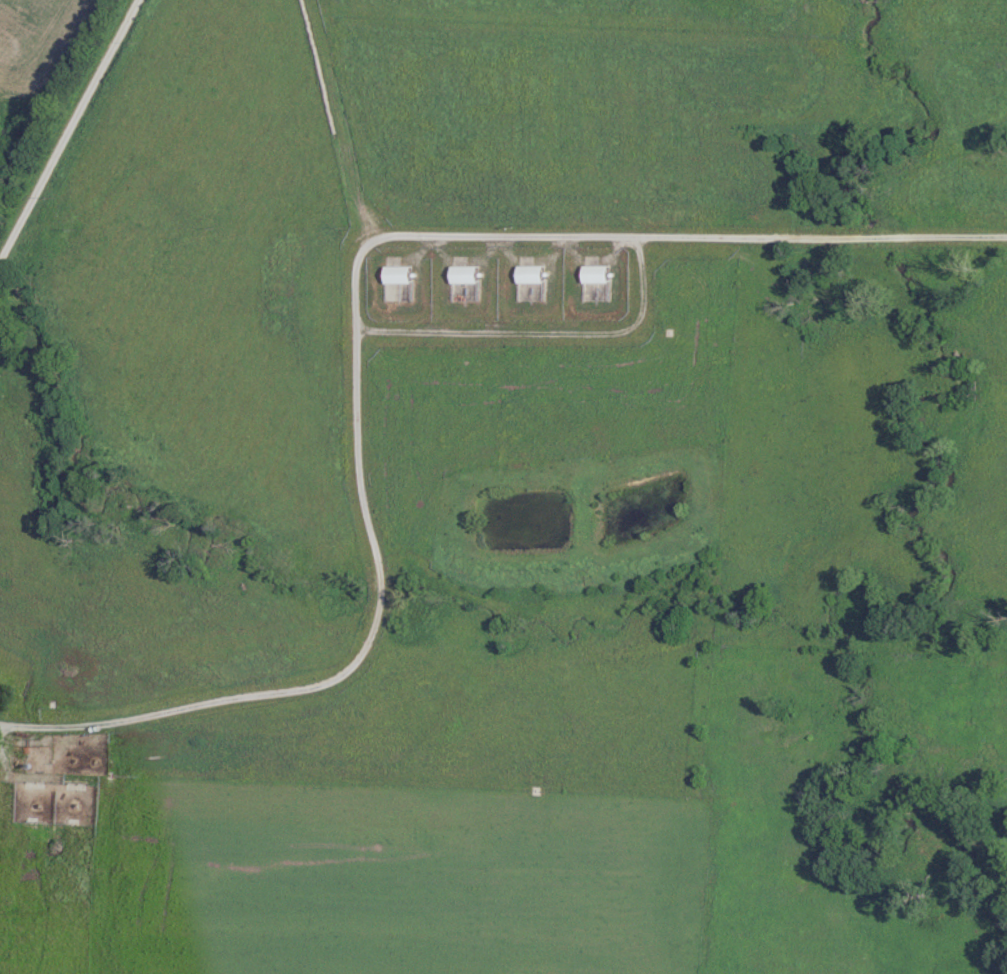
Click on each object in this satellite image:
road: (70, 134)
building: (532, 280)
building: (401, 285)
building: (467, 285)
building: (597, 285)
road: (352, 320)

